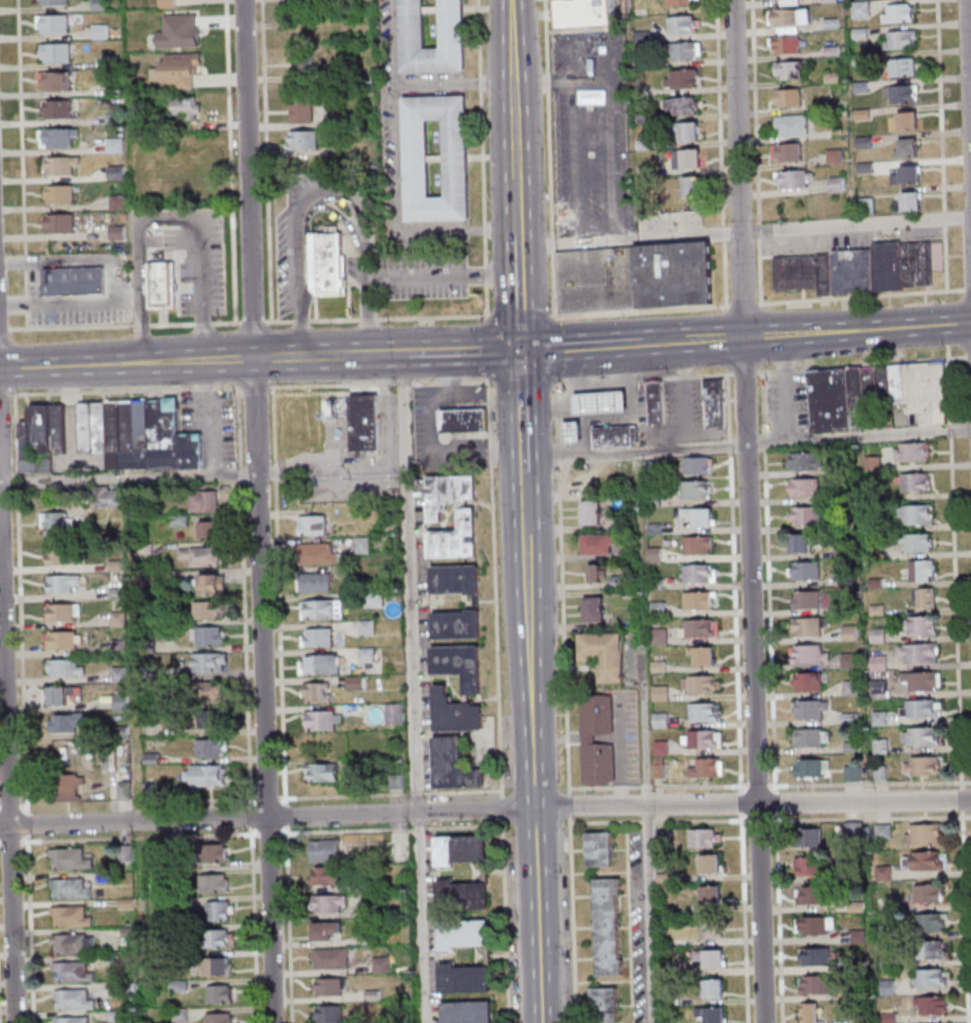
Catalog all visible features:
building: (774, 0)
building: (826, 1)
building: (51, 2)
building: (164, 3)
building: (677, 4)
building: (97, 5)
building: (858, 10)
building: (581, 14)
building: (895, 15)
building: (782, 18)
building: (50, 23)
building: (450, 23)
building: (828, 25)
building: (678, 27)
building: (176, 31)
building: (96, 32)
building: (857, 34)
road: (510, 38)
building: (639, 38)
building: (897, 41)
road: (391, 44)
building: (784, 46)
building: (829, 51)
building: (53, 52)
building: (679, 52)
building: (106, 61)
building: (857, 61)
building: (301, 64)
road: (968, 64)
building: (899, 69)
building: (175, 70)
building: (786, 72)
building: (331, 73)
building: (829, 78)
building: (52, 80)
building: (679, 80)
building: (111, 87)
building: (858, 87)
building: (639, 92)
building: (900, 95)
building: (785, 99)
road: (942, 105)
building: (183, 107)
building: (299, 107)
building: (678, 107)
building: (830, 107)
building: (55, 109)
road: (610, 111)
road: (755, 111)
road: (719, 112)
building: (859, 115)
building: (112, 118)
building: (333, 119)
building: (641, 119)
building: (900, 123)
road: (513, 124)
building: (789, 127)
building: (684, 132)
parking lot: (588, 133)
building: (54, 137)
building: (301, 140)
building: (861, 143)
building: (640, 144)
building: (112, 145)
building: (903, 150)
building: (786, 154)
building: (832, 157)
building: (413, 158)
road: (481, 158)
road: (546, 160)
building: (684, 160)
road: (396, 161)
road: (262, 162)
road: (227, 163)
building: (57, 165)
road: (18, 166)
building: (863, 169)
building: (642, 172)
building: (113, 173)
building: (903, 178)
road: (249, 179)
building: (791, 181)
building: (833, 185)
building: (689, 188)
building: (57, 195)
building: (913, 201)
building: (115, 202)
road: (520, 203)
building: (870, 205)
road: (344, 213)
road: (947, 217)
building: (63, 223)
road: (745, 230)
road: (759, 230)
road: (723, 232)
building: (120, 233)
road: (367, 245)
road: (299, 250)
road: (949, 258)
parking lot: (286, 259)
building: (331, 262)
building: (920, 263)
road: (140, 264)
building: (890, 264)
road: (34, 269)
road: (760, 270)
building: (856, 270)
building: (799, 272)
building: (673, 273)
road: (724, 273)
building: (828, 274)
road: (444, 276)
parking lot: (427, 277)
building: (594, 279)
building: (77, 281)
building: (165, 284)
road: (203, 289)
road: (967, 289)
road: (522, 292)
road: (860, 296)
road: (71, 304)
road: (743, 304)
road: (639, 312)
road: (520, 316)
road: (379, 318)
road: (255, 323)
road: (127, 326)
road: (5, 330)
road: (807, 334)
road: (370, 337)
road: (583, 347)
road: (556, 348)
traffic signals: (524, 349)
road: (475, 350)
road: (386, 354)
road: (300, 357)
road: (961, 358)
road: (233, 360)
road: (176, 362)
road: (72, 365)
road: (510, 381)
building: (902, 383)
road: (384, 384)
road: (258, 387)
building: (859, 387)
road: (130, 391)
building: (930, 391)
road: (8, 395)
building: (888, 396)
building: (874, 398)
building: (834, 399)
building: (604, 401)
building: (659, 402)
building: (718, 402)
building: (331, 407)
road: (525, 411)
road: (212, 419)
building: (466, 419)
building: (368, 422)
building: (130, 424)
building: (144, 424)
building: (116, 425)
building: (95, 427)
building: (576, 431)
building: (619, 436)
building: (44, 437)
building: (173, 437)
road: (434, 441)
road: (749, 443)
building: (912, 451)
building: (805, 461)
building: (874, 463)
building: (698, 465)
road: (333, 473)
building: (598, 476)
road: (131, 479)
building: (916, 482)
building: (804, 488)
building: (696, 489)
building: (116, 497)
building: (147, 497)
building: (207, 501)
building: (470, 511)
road: (748, 511)
building: (591, 512)
building: (916, 514)
building: (699, 516)
building: (806, 516)
building: (183, 521)
building: (58, 524)
building: (316, 525)
building: (212, 529)
building: (800, 542)
building: (916, 543)
building: (602, 544)
building: (698, 544)
building: (365, 545)
building: (148, 549)
building: (321, 553)
building: (205, 556)
building: (63, 557)
building: (119, 566)
building: (804, 569)
building: (922, 571)
building: (594, 572)
building: (699, 573)
building: (169, 578)
building: (318, 582)
building: (67, 583)
building: (215, 584)
road: (562, 586)
road: (959, 587)
road: (498, 590)
building: (121, 593)
road: (282, 596)
road: (247, 597)
building: (924, 598)
building: (378, 599)
building: (806, 599)
building: (699, 600)
building: (476, 602)
road: (24, 604)
building: (209, 609)
building: (326, 609)
building: (594, 609)
building: (67, 612)
building: (122, 619)
building: (154, 620)
building: (921, 625)
building: (809, 626)
building: (370, 627)
building: (699, 628)
building: (849, 632)
building: (878, 635)
building: (658, 636)
building: (212, 637)
building: (321, 638)
building: (67, 641)
building: (123, 646)
building: (150, 647)
building: (604, 653)
building: (810, 653)
building: (370, 654)
building: (703, 654)
building: (918, 654)
building: (213, 662)
building: (879, 662)
building: (323, 664)
building: (462, 664)
building: (69, 668)
building: (124, 674)
building: (151, 674)
building: (807, 681)
building: (359, 682)
building: (922, 682)
building: (700, 684)
road: (415, 688)
building: (879, 689)
road: (266, 691)
building: (212, 692)
building: (321, 692)
building: (61, 695)
building: (125, 702)
building: (920, 708)
road: (6, 709)
building: (811, 709)
building: (705, 711)
building: (458, 712)
building: (398, 714)
building: (596, 714)
building: (880, 717)
building: (214, 719)
building: (326, 721)
building: (71, 722)
building: (125, 730)
road: (650, 736)
building: (921, 736)
building: (812, 737)
building: (702, 738)
building: (881, 745)
building: (215, 747)
road: (537, 747)
building: (155, 758)
building: (659, 759)
building: (598, 762)
building: (457, 765)
building: (922, 765)
building: (707, 767)
building: (811, 768)
building: (326, 772)
building: (853, 772)
building: (211, 775)
building: (399, 780)
building: (69, 787)
building: (129, 790)
building: (155, 790)
road: (392, 794)
road: (269, 799)
road: (206, 801)
road: (505, 803)
road: (12, 805)
road: (26, 805)
road: (1, 806)
road: (573, 806)
road: (485, 809)
road: (154, 810)
road: (289, 811)
road: (254, 817)
road: (30, 820)
building: (854, 829)
building: (884, 831)
road: (266, 834)
building: (925, 835)
road: (145, 837)
building: (704, 837)
building: (809, 837)
road: (14, 841)
building: (464, 849)
building: (603, 849)
building: (330, 852)
building: (126, 853)
building: (215, 853)
building: (69, 858)
building: (923, 860)
building: (710, 863)
building: (809, 866)
building: (334, 876)
building: (213, 883)
building: (70, 888)
building: (929, 893)
building: (465, 895)
building: (813, 895)
road: (968, 895)
building: (126, 902)
building: (332, 903)
building: (219, 910)
building: (372, 910)
building: (712, 912)
building: (71, 915)
road: (575, 921)
building: (931, 922)
road: (256, 925)
building: (611, 926)
parking lot: (641, 926)
building: (815, 926)
building: (328, 930)
road: (31, 932)
building: (466, 933)
building: (374, 936)
building: (219, 938)
building: (73, 943)
building: (932, 950)
building: (816, 957)
building: (334, 958)
building: (713, 959)
building: (386, 965)
building: (216, 966)
building: (72, 971)
building: (467, 977)
building: (931, 979)
building: (816, 984)
building: (333, 986)
building: (713, 989)
building: (220, 993)
building: (376, 996)
building: (74, 999)
building: (608, 1005)
building: (932, 1006)
building: (471, 1011)
building: (810, 1012)
building: (179, 1014)
building: (332, 1014)
building: (711, 1014)
building: (117, 1015)
building: (219, 1018)
building: (72, 1019)

